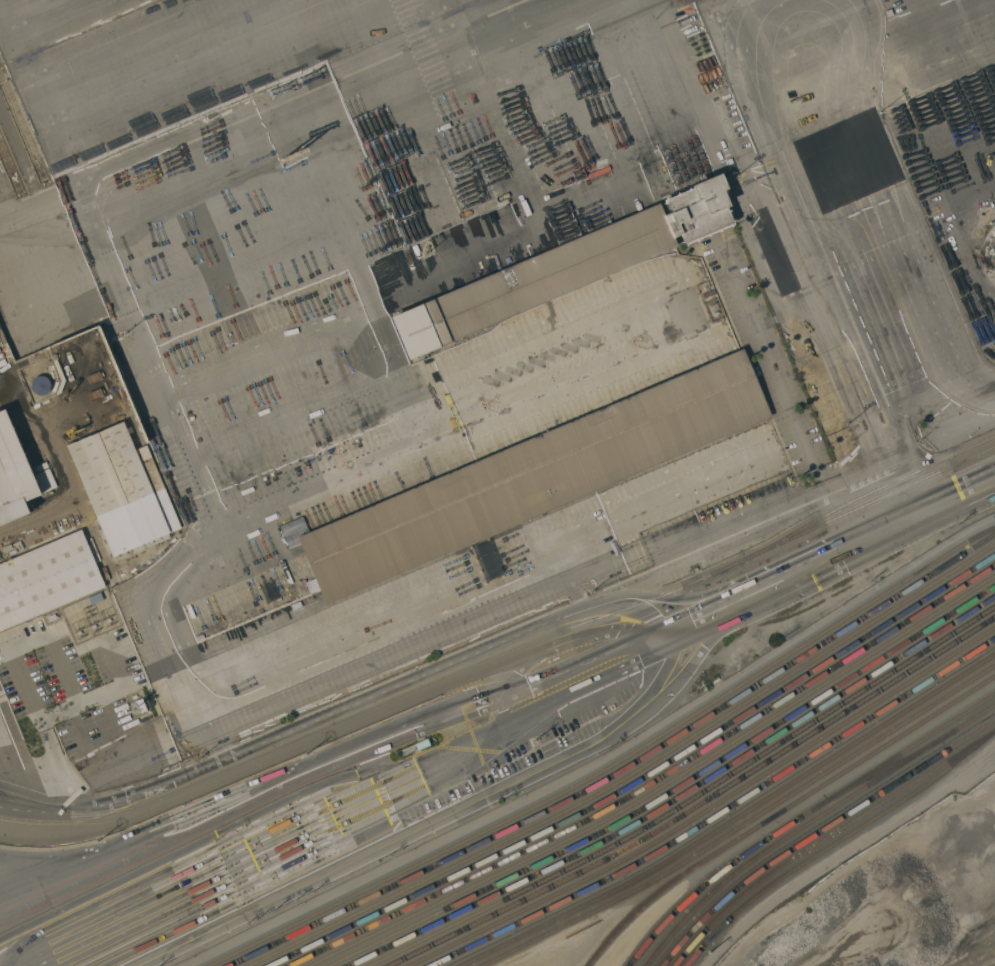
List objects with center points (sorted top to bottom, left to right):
building: (841, 155)
building: (762, 228)
building: (992, 239)
building: (777, 264)
building: (994, 265)
building: (561, 269)
building: (707, 294)
road: (801, 298)
road: (919, 322)
road: (835, 326)
road: (798, 342)
building: (39, 386)
road: (862, 386)
building: (841, 393)
road: (823, 402)
road: (914, 404)
building: (848, 433)
road: (897, 463)
building: (19, 473)
building: (532, 477)
road: (858, 481)
building: (122, 491)
railway: (866, 493)
road: (24, 521)
road: (734, 527)
road: (849, 552)
building: (45, 579)
building: (94, 599)
road: (390, 655)
railway: (502, 656)
railway: (967, 659)
road: (16, 664)
road: (398, 687)
building: (139, 706)
road: (350, 742)
railway: (615, 766)
railway: (885, 770)
railway: (625, 771)
railway: (634, 775)
railway: (643, 780)
railway: (653, 783)
railway: (663, 789)
railway: (671, 791)
railway: (681, 797)
road: (369, 798)
railway: (690, 800)
road: (42, 802)
railway: (700, 806)
railway: (710, 809)
railway: (783, 812)
railway: (720, 814)
road: (439, 817)
railway: (802, 818)
railway: (734, 821)
railway: (811, 823)
railway: (745, 825)
railway: (820, 832)
railway: (827, 839)
railway: (836, 844)

